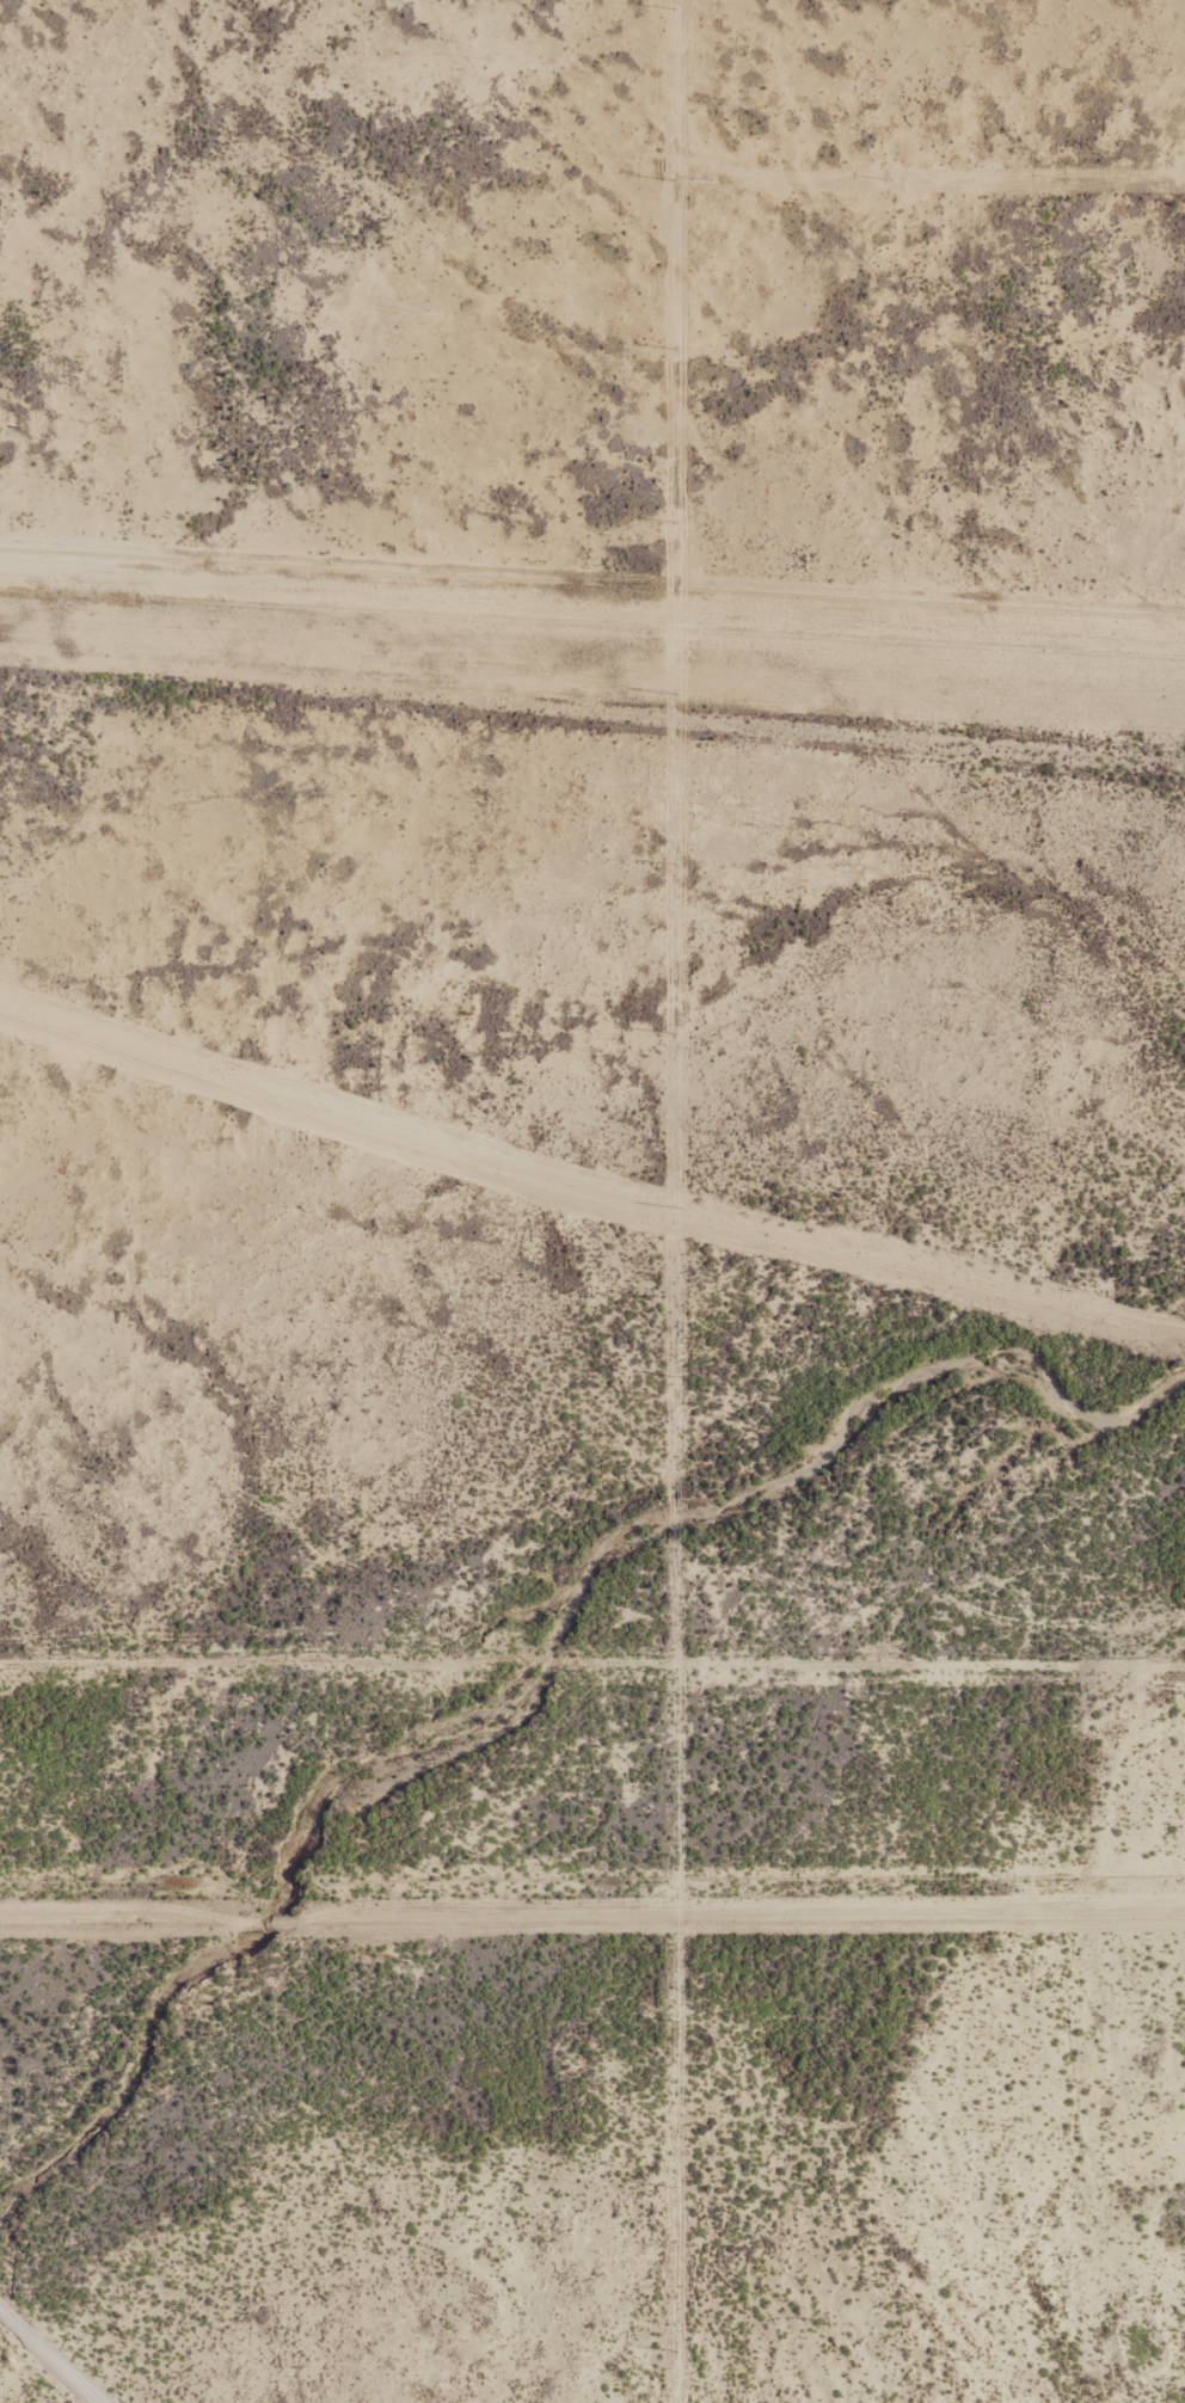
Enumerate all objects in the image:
road: (41, 2365)

